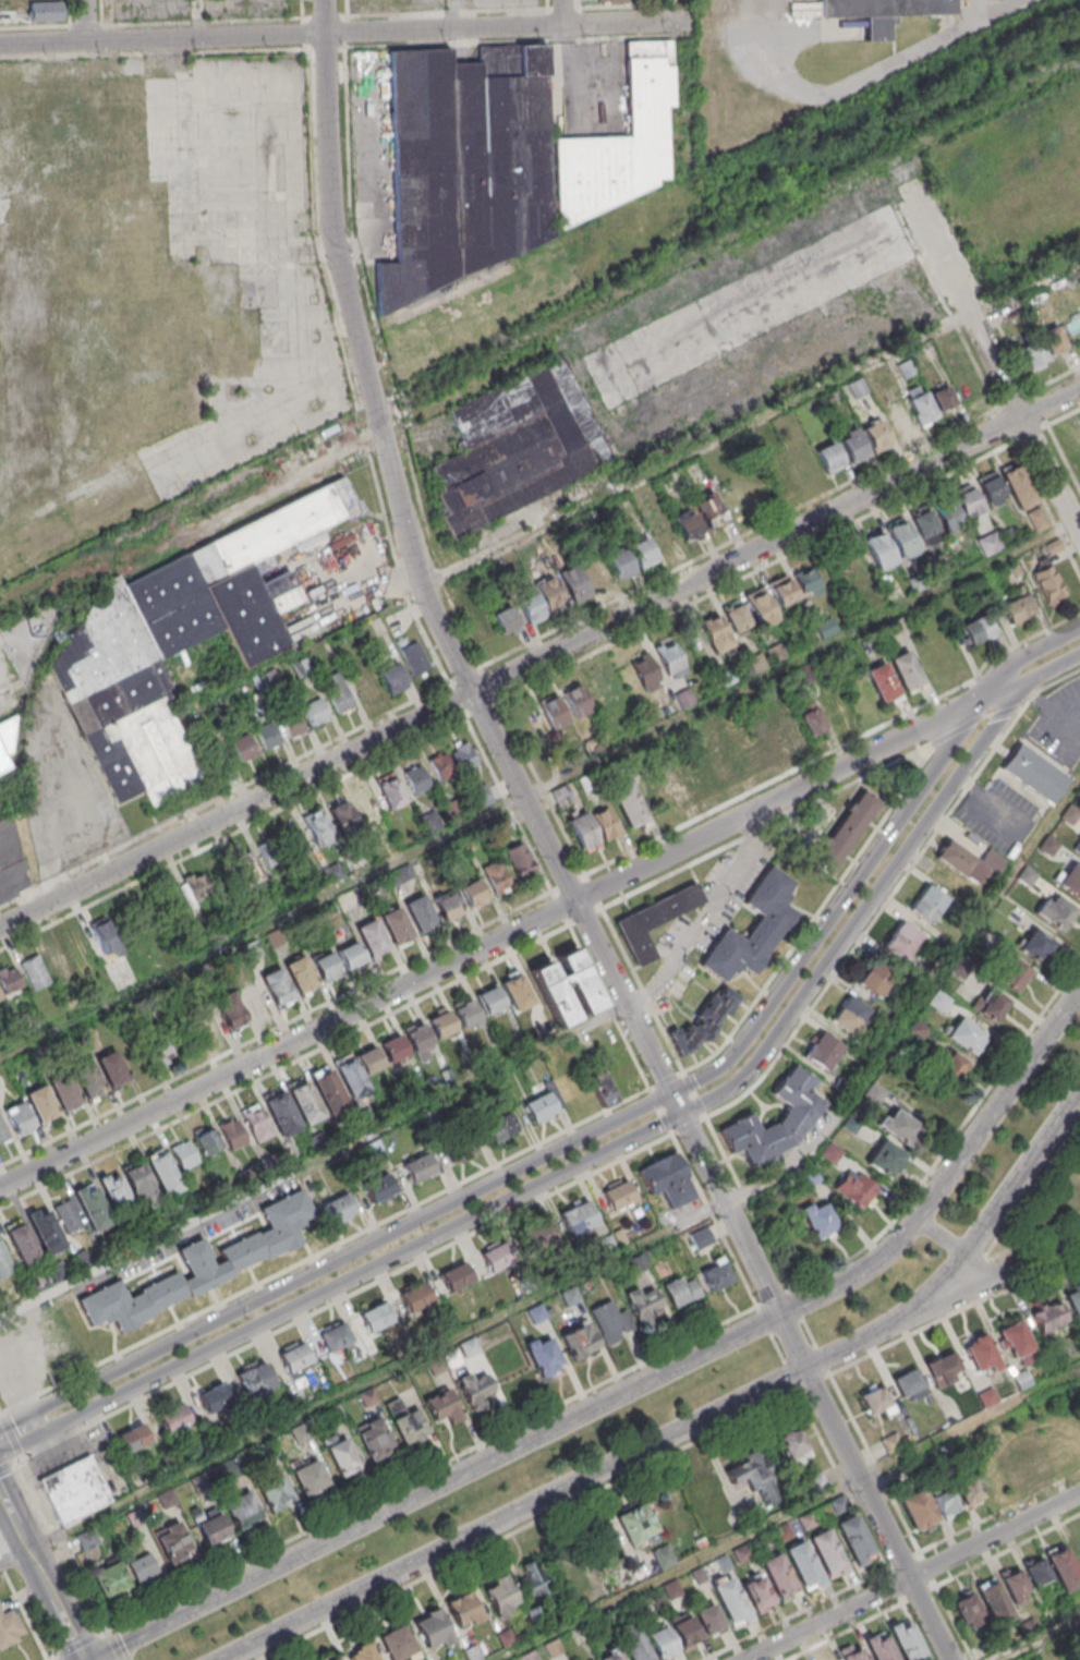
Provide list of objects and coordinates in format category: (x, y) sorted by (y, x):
building: (612, 0)
building: (46, 11)
road: (562, 12)
building: (883, 12)
road: (456, 14)
road: (201, 19)
road: (84, 21)
road: (332, 33)
road: (885, 66)
building: (620, 142)
building: (466, 165)
road: (926, 259)
road: (955, 322)
building: (1054, 340)
building: (1035, 355)
road: (991, 361)
road: (979, 371)
building: (944, 398)
building: (922, 407)
building: (898, 419)
road: (1005, 425)
building: (877, 434)
building: (518, 445)
building: (854, 446)
building: (830, 458)
road: (390, 467)
building: (781, 476)
building: (1018, 486)
building: (992, 488)
building: (968, 500)
road: (1045, 505)
building: (711, 510)
building: (949, 514)
building: (1039, 519)
building: (688, 524)
building: (926, 525)
building: (663, 534)
railway: (135, 535)
building: (902, 537)
building: (879, 549)
building: (644, 553)
building: (620, 562)
building: (857, 565)
building: (808, 582)
building: (575, 583)
building: (1048, 584)
building: (784, 590)
building: (550, 594)
building: (762, 607)
building: (532, 608)
building: (1018, 608)
building: (737, 616)
building: (507, 620)
building: (826, 627)
building: (978, 629)
building: (485, 631)
building: (715, 633)
road: (541, 637)
building: (175, 643)
building: (415, 657)
building: (671, 658)
road: (1029, 662)
road: (539, 665)
road: (1053, 669)
building: (906, 670)
building: (646, 673)
building: (393, 678)
road: (539, 678)
building: (883, 682)
building: (365, 683)
building: (602, 690)
road: (1005, 691)
building: (338, 692)
building: (683, 699)
building: (577, 700)
building: (317, 711)
building: (555, 712)
road: (975, 720)
building: (813, 722)
building: (294, 725)
parking lot: (1060, 726)
building: (791, 729)
building: (269, 736)
building: (244, 748)
building: (769, 748)
building: (463, 755)
building: (3, 761)
building: (441, 766)
building: (1034, 774)
building: (417, 778)
building: (700, 781)
building: (675, 787)
road: (541, 788)
building: (390, 790)
building: (482, 793)
road: (780, 800)
building: (629, 803)
building: (367, 804)
building: (342, 815)
parking lot: (998, 815)
building: (606, 823)
building: (318, 827)
building: (584, 831)
building: (846, 831)
building: (295, 841)
building: (1048, 845)
building: (1077, 848)
building: (270, 853)
building: (521, 861)
building: (970, 861)
building: (250, 868)
building: (12, 869)
building: (1027, 875)
building: (497, 876)
building: (1070, 879)
building: (195, 890)
road: (891, 892)
building: (474, 894)
building: (929, 904)
building: (448, 905)
building: (1055, 912)
building: (421, 913)
road: (704, 916)
road: (815, 916)
building: (153, 918)
building: (654, 920)
building: (397, 926)
building: (753, 928)
building: (107, 937)
building: (372, 938)
building: (903, 938)
building: (1035, 945)
building: (351, 955)
building: (58, 959)
building: (327, 967)
building: (35, 971)
building: (301, 974)
building: (1012, 974)
building: (9, 979)
building: (876, 979)
building: (567, 986)
building: (278, 989)
building: (515, 992)
building: (252, 997)
building: (0, 998)
building: (490, 999)
building: (992, 1005)
building: (230, 1011)
building: (466, 1011)
building: (852, 1015)
building: (206, 1023)
road: (284, 1023)
building: (441, 1023)
building: (701, 1023)
building: (966, 1034)
building: (420, 1041)
road: (289, 1044)
building: (395, 1047)
building: (163, 1050)
building: (823, 1051)
building: (371, 1059)
building: (951, 1066)
building: (112, 1069)
building: (351, 1075)
road: (668, 1079)
building: (89, 1080)
building: (600, 1087)
building: (328, 1088)
building: (65, 1093)
road: (694, 1093)
building: (874, 1093)
building: (305, 1102)
building: (545, 1103)
building: (41, 1104)
road: (660, 1111)
building: (281, 1113)
building: (798, 1116)
building: (20, 1118)
building: (256, 1123)
road: (689, 1124)
building: (899, 1126)
building: (500, 1127)
building: (3, 1132)
building: (233, 1132)
building: (208, 1141)
road: (950, 1142)
building: (460, 1147)
road: (562, 1147)
building: (184, 1154)
building: (885, 1159)
road: (590, 1160)
road: (314, 1161)
building: (420, 1167)
building: (163, 1172)
road: (1018, 1178)
building: (668, 1179)
building: (139, 1183)
building: (379, 1188)
building: (855, 1188)
building: (114, 1189)
building: (619, 1193)
road: (748, 1200)
building: (92, 1205)
building: (340, 1209)
building: (66, 1215)
building: (579, 1216)
road: (715, 1219)
building: (820, 1220)
building: (46, 1229)
building: (536, 1236)
building: (702, 1237)
road: (939, 1237)
building: (22, 1244)
road: (628, 1253)
building: (497, 1257)
building: (4, 1262)
building: (205, 1264)
road: (1019, 1267)
building: (716, 1274)
building: (457, 1276)
road: (765, 1280)
building: (681, 1291)
road: (347, 1295)
building: (416, 1296)
building: (571, 1296)
building: (1075, 1300)
building: (644, 1302)
road: (955, 1312)
building: (376, 1317)
building: (1049, 1317)
building: (610, 1321)
road: (810, 1330)
building: (336, 1336)
building: (580, 1341)
building: (1017, 1342)
road: (777, 1347)
building: (981, 1354)
building: (544, 1355)
building: (295, 1362)
building: (437, 1365)
building: (944, 1369)
building: (255, 1379)
road: (813, 1383)
building: (909, 1384)
road: (635, 1386)
building: (475, 1389)
building: (215, 1397)
building: (876, 1401)
building: (442, 1405)
road: (0, 1413)
building: (174, 1418)
building: (406, 1421)
building: (301, 1433)
building: (133, 1438)
building: (374, 1439)
building: (796, 1446)
building: (341, 1454)
road: (11, 1462)
building: (1026, 1463)
road: (597, 1473)
building: (747, 1473)
building: (310, 1476)
road: (840, 1479)
building: (968, 1488)
building: (75, 1490)
building: (276, 1492)
building: (945, 1500)
building: (243, 1510)
building: (919, 1511)
road: (789, 1516)
road: (902, 1516)
road: (53, 1520)
road: (526, 1525)
building: (638, 1525)
building: (210, 1527)
road: (958, 1536)
building: (853, 1538)
building: (86, 1539)
building: (172, 1542)
building: (1077, 1548)
building: (827, 1552)
building: (663, 1555)
road: (14, 1560)
building: (803, 1563)
building: (142, 1567)
building: (1064, 1570)
building: (1037, 1572)
road: (910, 1575)
road: (40, 1576)
building: (778, 1576)
building: (536, 1577)
building: (110, 1579)
building: (1016, 1586)
building: (500, 1595)
building: (757, 1595)
building: (730, 1600)
building: (994, 1601)
building: (463, 1609)
building: (967, 1609)
building: (708, 1616)
building: (432, 1627)
building: (10, 1628)
building: (684, 1629)
building: (506, 1637)
road: (1039, 1639)
building: (906, 1640)
building: (662, 1643)
road: (78, 1644)
building: (398, 1644)
building: (634, 1644)
road: (114, 1645)
building: (553, 1647)
building: (879, 1647)
building: (362, 1651)
building: (852, 1651)
building: (610, 1655)
building: (529, 1656)
building: (333, 1658)
building: (833, 1659)
building: (1063, 1659)

